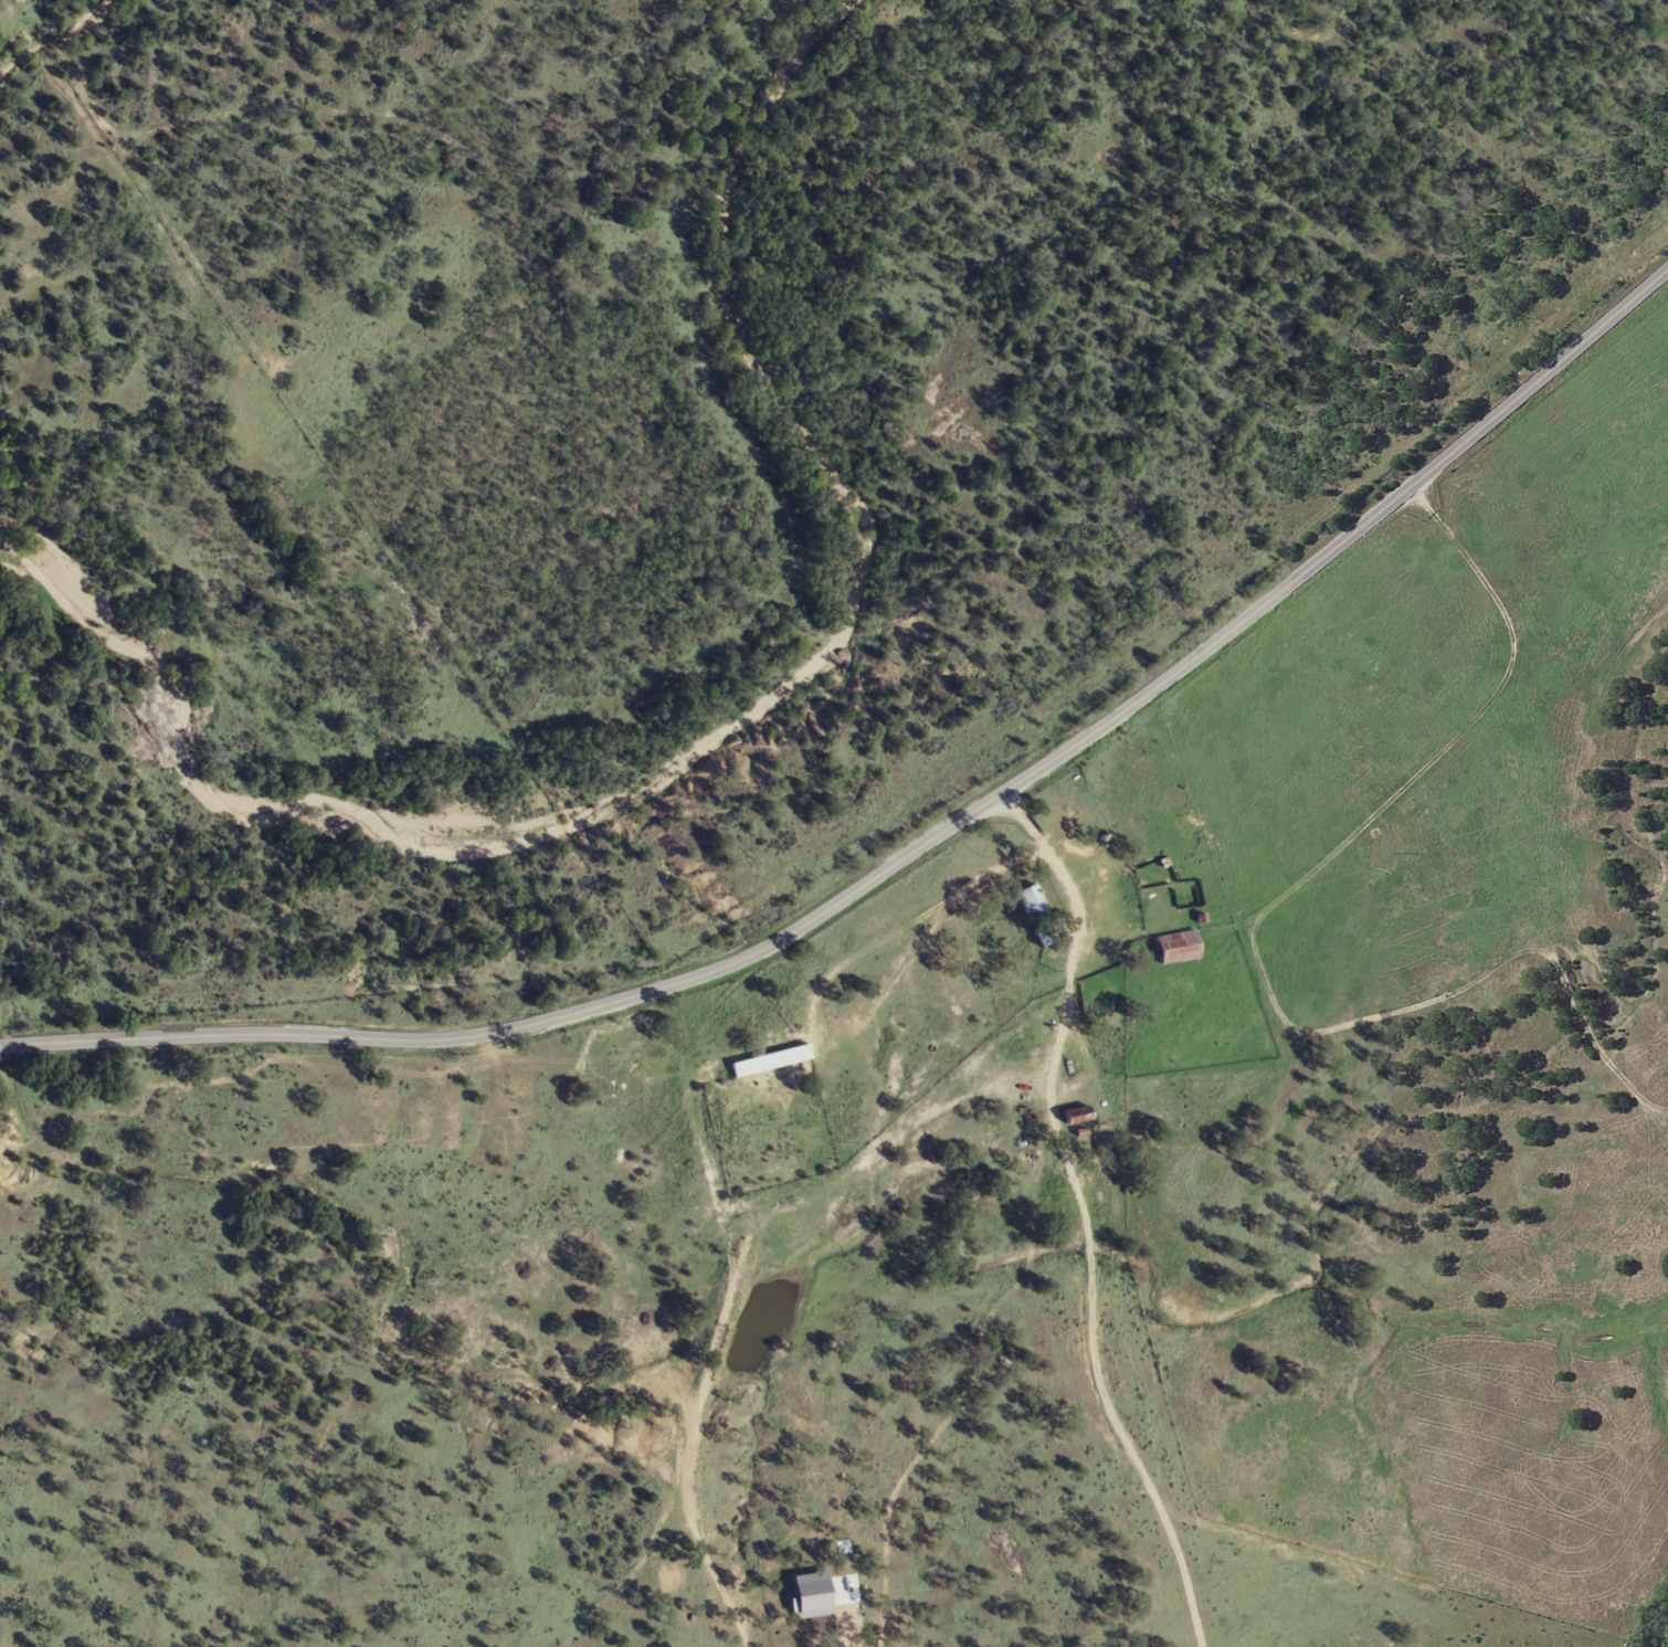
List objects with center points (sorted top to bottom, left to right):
road: (910, 852)
building: (1034, 900)
building: (1047, 936)
building: (1178, 948)
building: (771, 1062)
building: (1078, 1116)
road: (1081, 1206)
road: (733, 1275)
railway: (1666, 1645)

